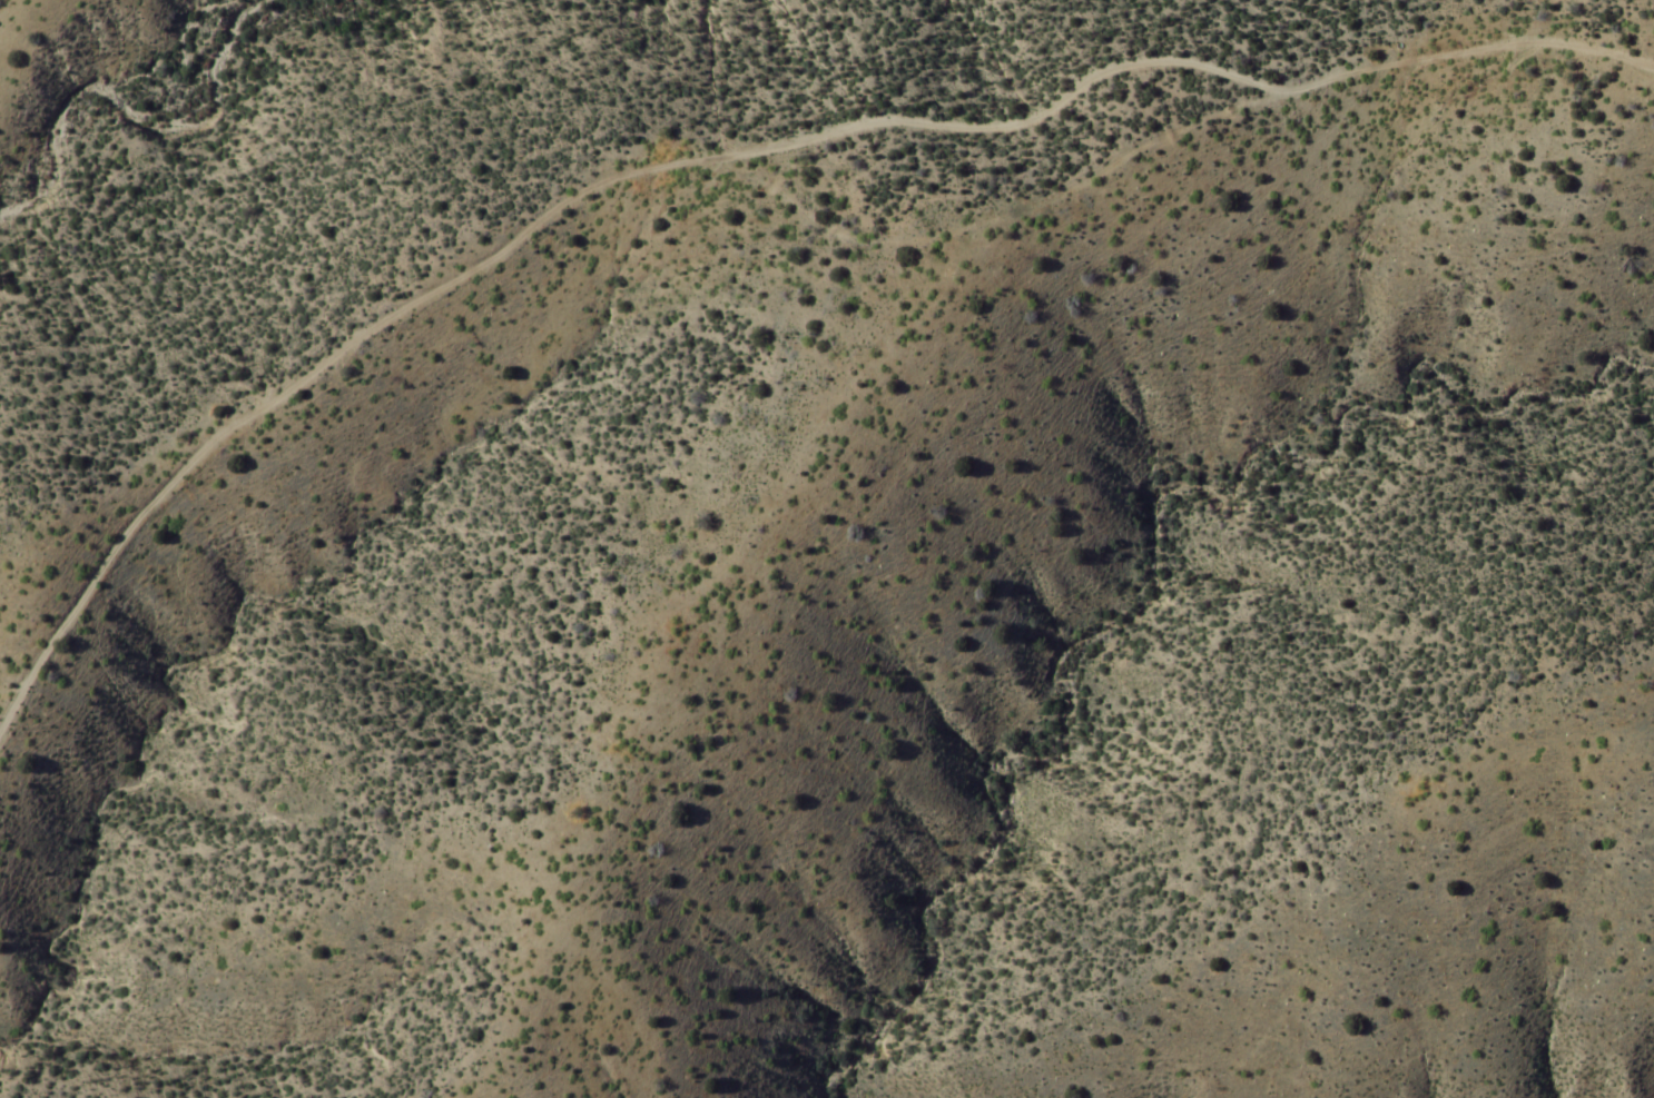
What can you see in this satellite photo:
road: (730, 157)

